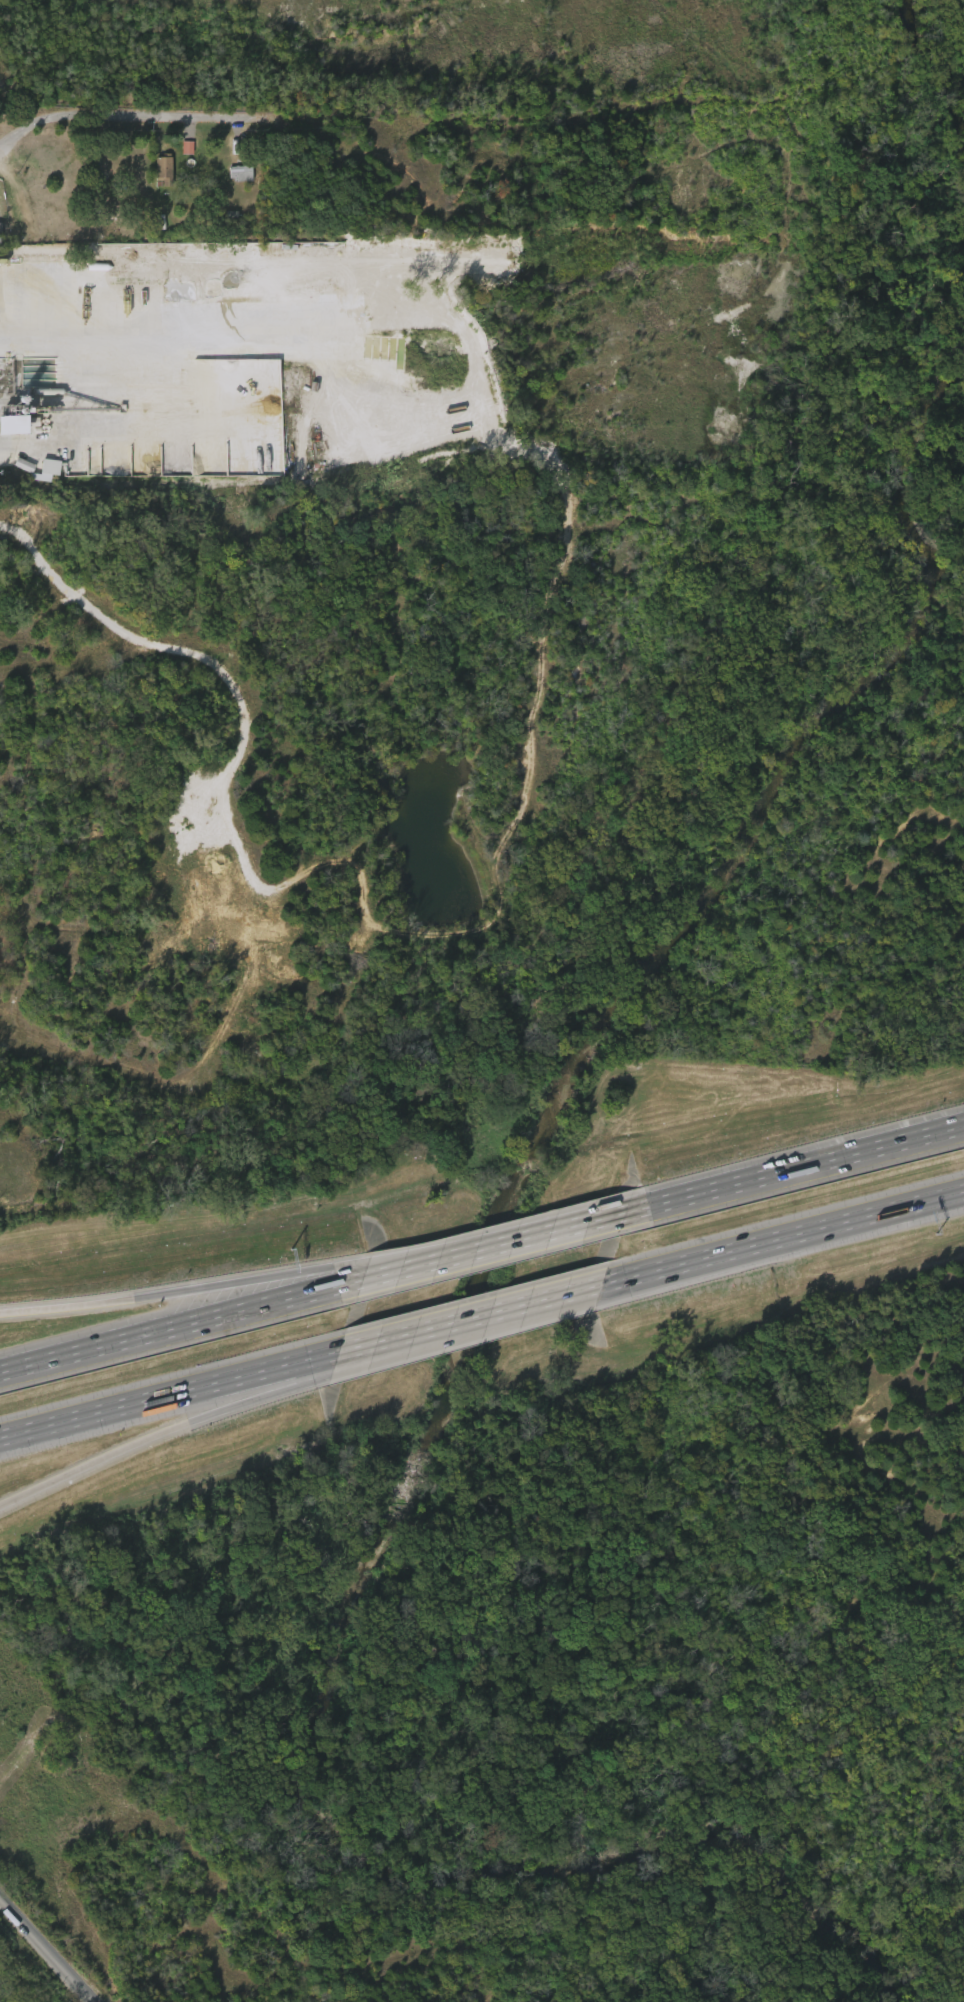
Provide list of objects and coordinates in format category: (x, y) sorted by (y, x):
road: (455, 7)
road: (115, 122)
building: (179, 154)
building: (163, 168)
building: (239, 172)
building: (155, 173)
building: (233, 180)
building: (113, 222)
building: (131, 295)
building: (9, 431)
building: (42, 475)
road: (788, 1169)
road: (556, 1229)
road: (797, 1233)
road: (427, 1252)
road: (177, 1290)
road: (575, 1290)
road: (249, 1307)
road: (390, 1351)
road: (259, 1370)
road: (128, 1445)
road: (47, 1948)

